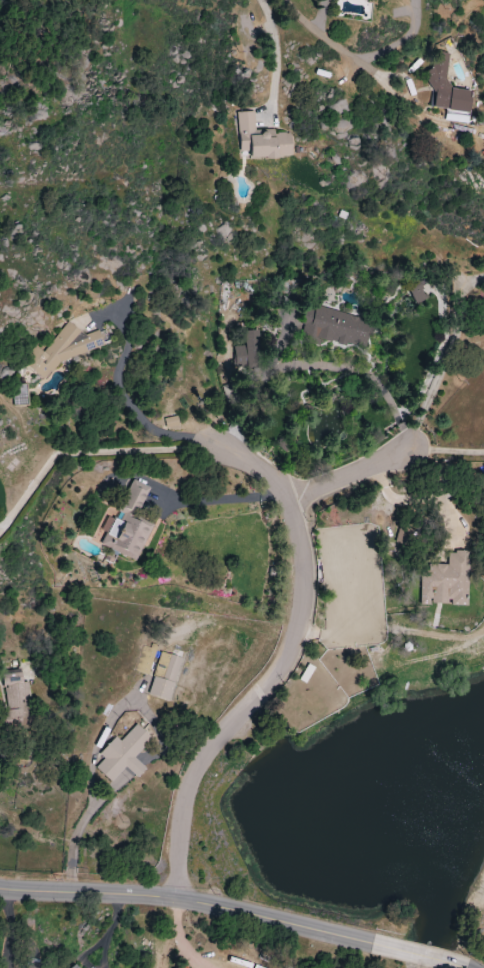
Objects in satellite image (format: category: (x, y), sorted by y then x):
road: (324, 38)
road: (401, 41)
road: (274, 56)
building: (448, 93)
building: (262, 140)
building: (483, 150)
building: (341, 327)
building: (62, 349)
building: (249, 351)
road: (448, 358)
road: (129, 404)
road: (87, 452)
road: (448, 453)
road: (349, 477)
road: (416, 498)
building: (441, 581)
road: (281, 663)
building: (165, 675)
building: (16, 696)
building: (123, 756)
road: (189, 897)
road: (109, 931)
road: (178, 938)
dam: (389, 943)
road: (34, 956)
building: (73, 966)
building: (183, 967)

